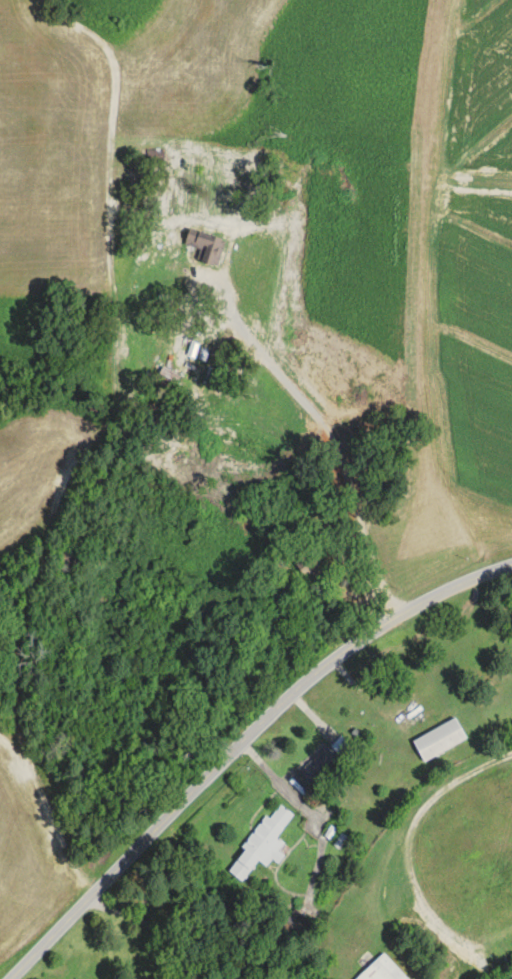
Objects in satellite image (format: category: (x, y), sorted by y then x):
building: (206, 246)
road: (122, 412)
building: (118, 546)
building: (307, 562)
building: (440, 739)
road: (240, 743)
building: (325, 759)
building: (337, 795)
building: (262, 844)
road: (152, 925)
building: (382, 970)
building: (505, 975)

